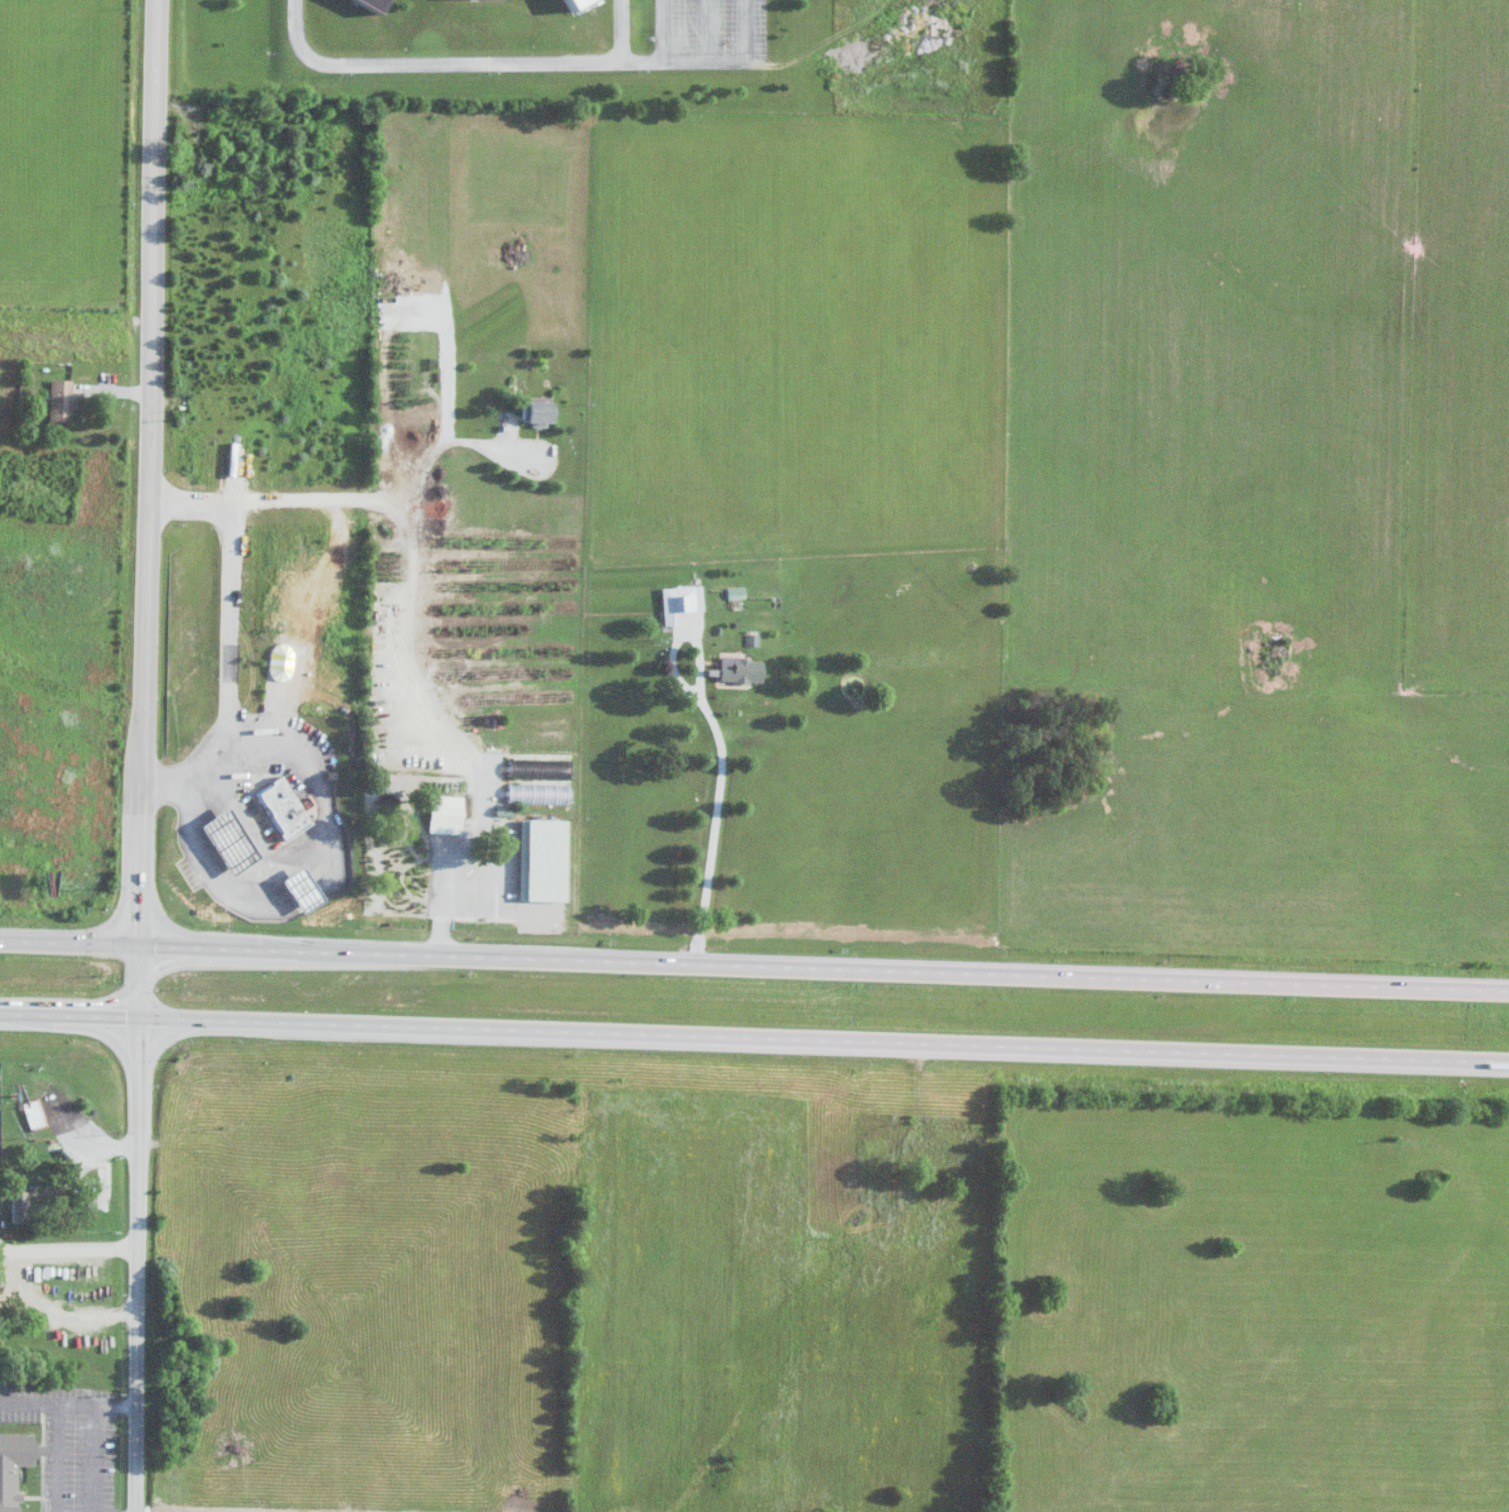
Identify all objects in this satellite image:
building: (359, 5)
building: (566, 6)
road: (701, 29)
road: (618, 30)
parking lot: (703, 33)
road: (660, 36)
road: (732, 58)
road: (443, 61)
building: (57, 401)
building: (532, 414)
road: (447, 440)
building: (677, 601)
road: (410, 630)
road: (222, 667)
building: (737, 671)
road: (145, 756)
road: (719, 758)
building: (282, 808)
building: (443, 810)
building: (228, 842)
building: (539, 861)
building: (400, 873)
building: (301, 889)
road: (754, 968)
road: (754, 1040)
building: (30, 1115)
road: (86, 1133)
building: (850, 1175)
building: (17, 1207)
road: (68, 1246)
road: (56, 1311)
building: (32, 1320)
road: (67, 1404)
road: (90, 1460)
building: (12, 1468)

